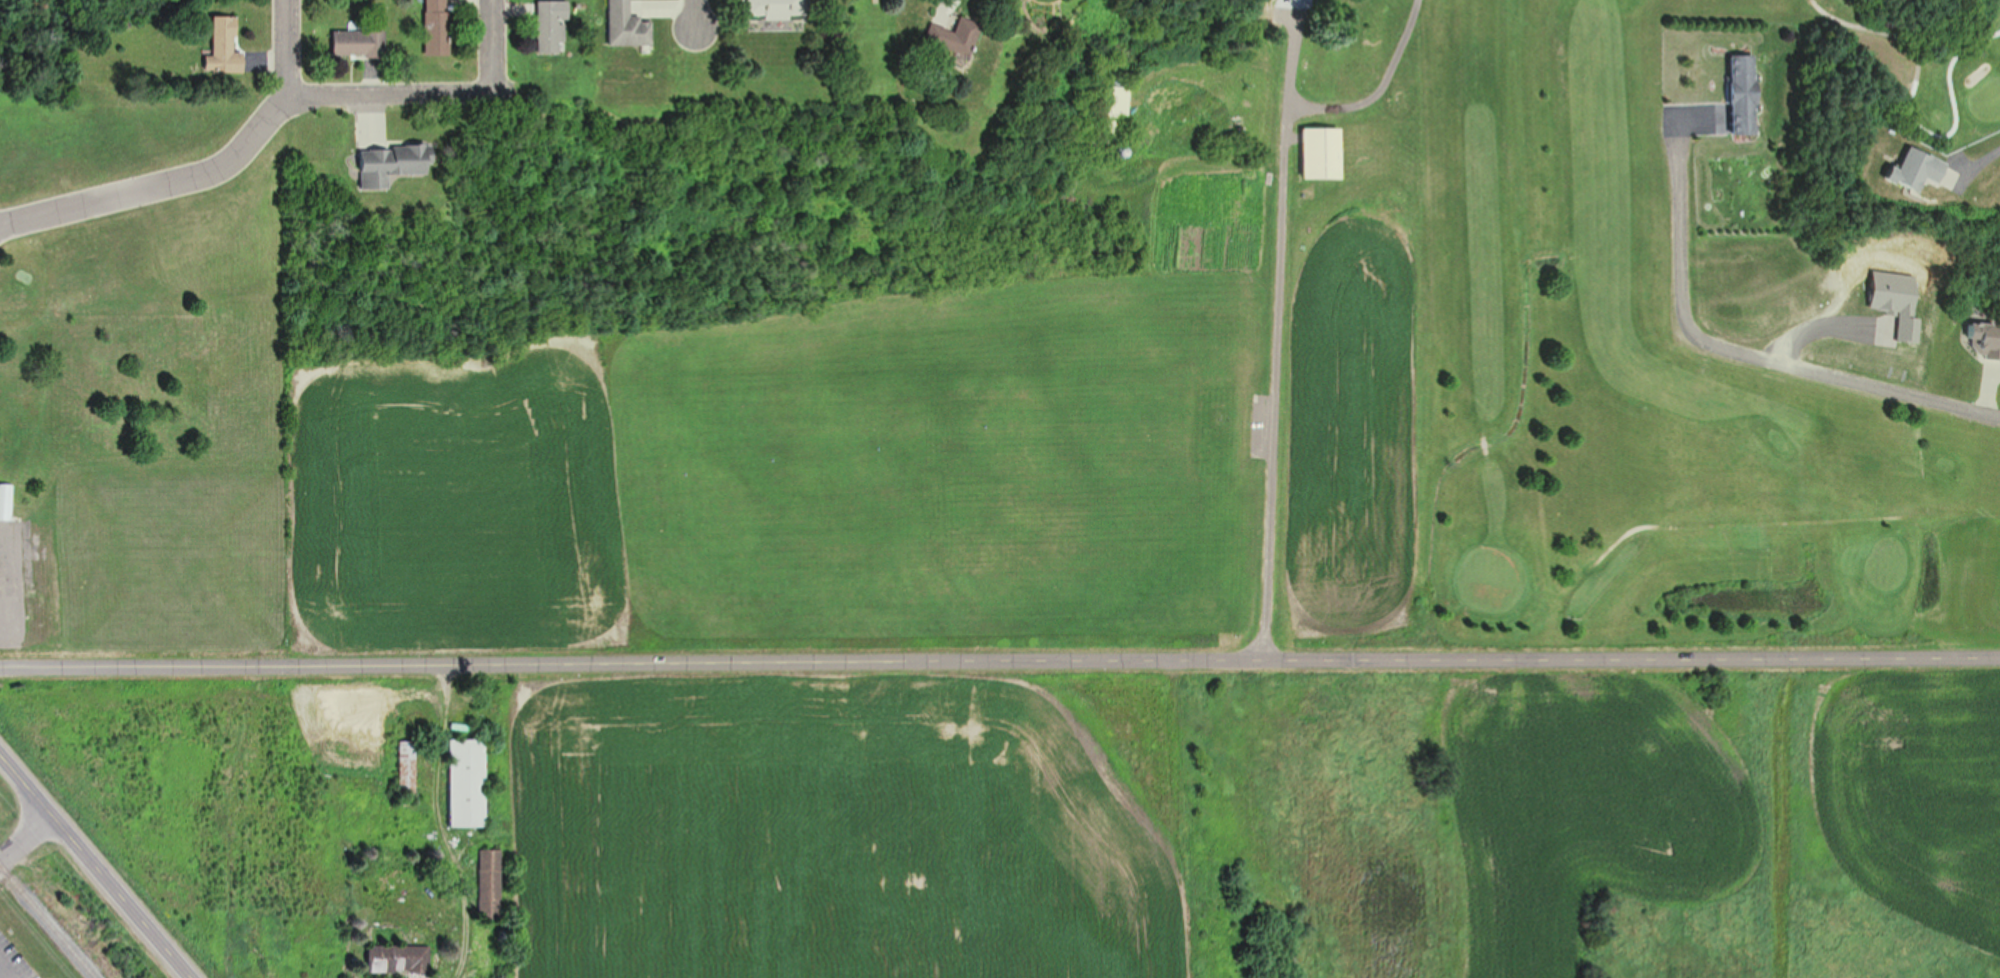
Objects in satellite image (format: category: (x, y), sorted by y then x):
building: (776, 9)
road: (694, 14)
building: (628, 25)
building: (551, 26)
building: (437, 27)
building: (955, 36)
building: (359, 43)
building: (225, 46)
road: (490, 46)
road: (281, 47)
road: (1911, 48)
building: (1356, 76)
road: (384, 94)
building: (1745, 94)
building: (1119, 110)
building: (1324, 152)
building: (393, 164)
building: (1920, 170)
road: (157, 185)
park: (1548, 273)
building: (1987, 340)
road: (1741, 347)
road: (1278, 361)
building: (6, 490)
road: (1761, 521)
road: (1632, 658)
road: (632, 663)
building: (408, 766)
building: (468, 781)
road: (436, 823)
road: (24, 835)
road: (94, 867)
building: (490, 882)
railway: (47, 921)
building: (399, 957)

